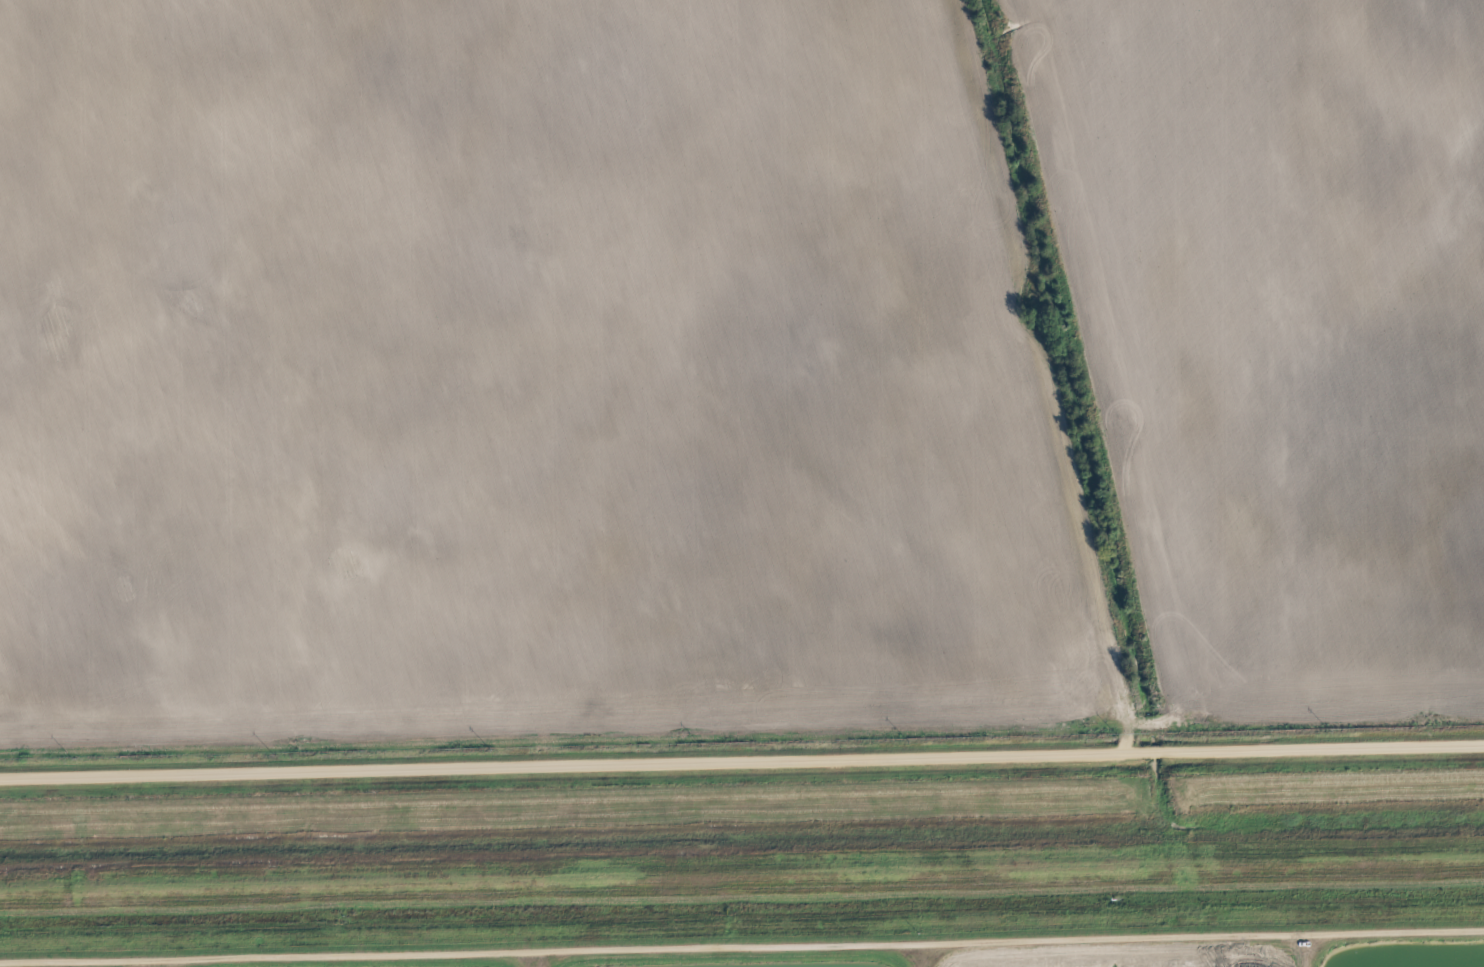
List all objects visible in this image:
road: (742, 757)
road: (1140, 790)

